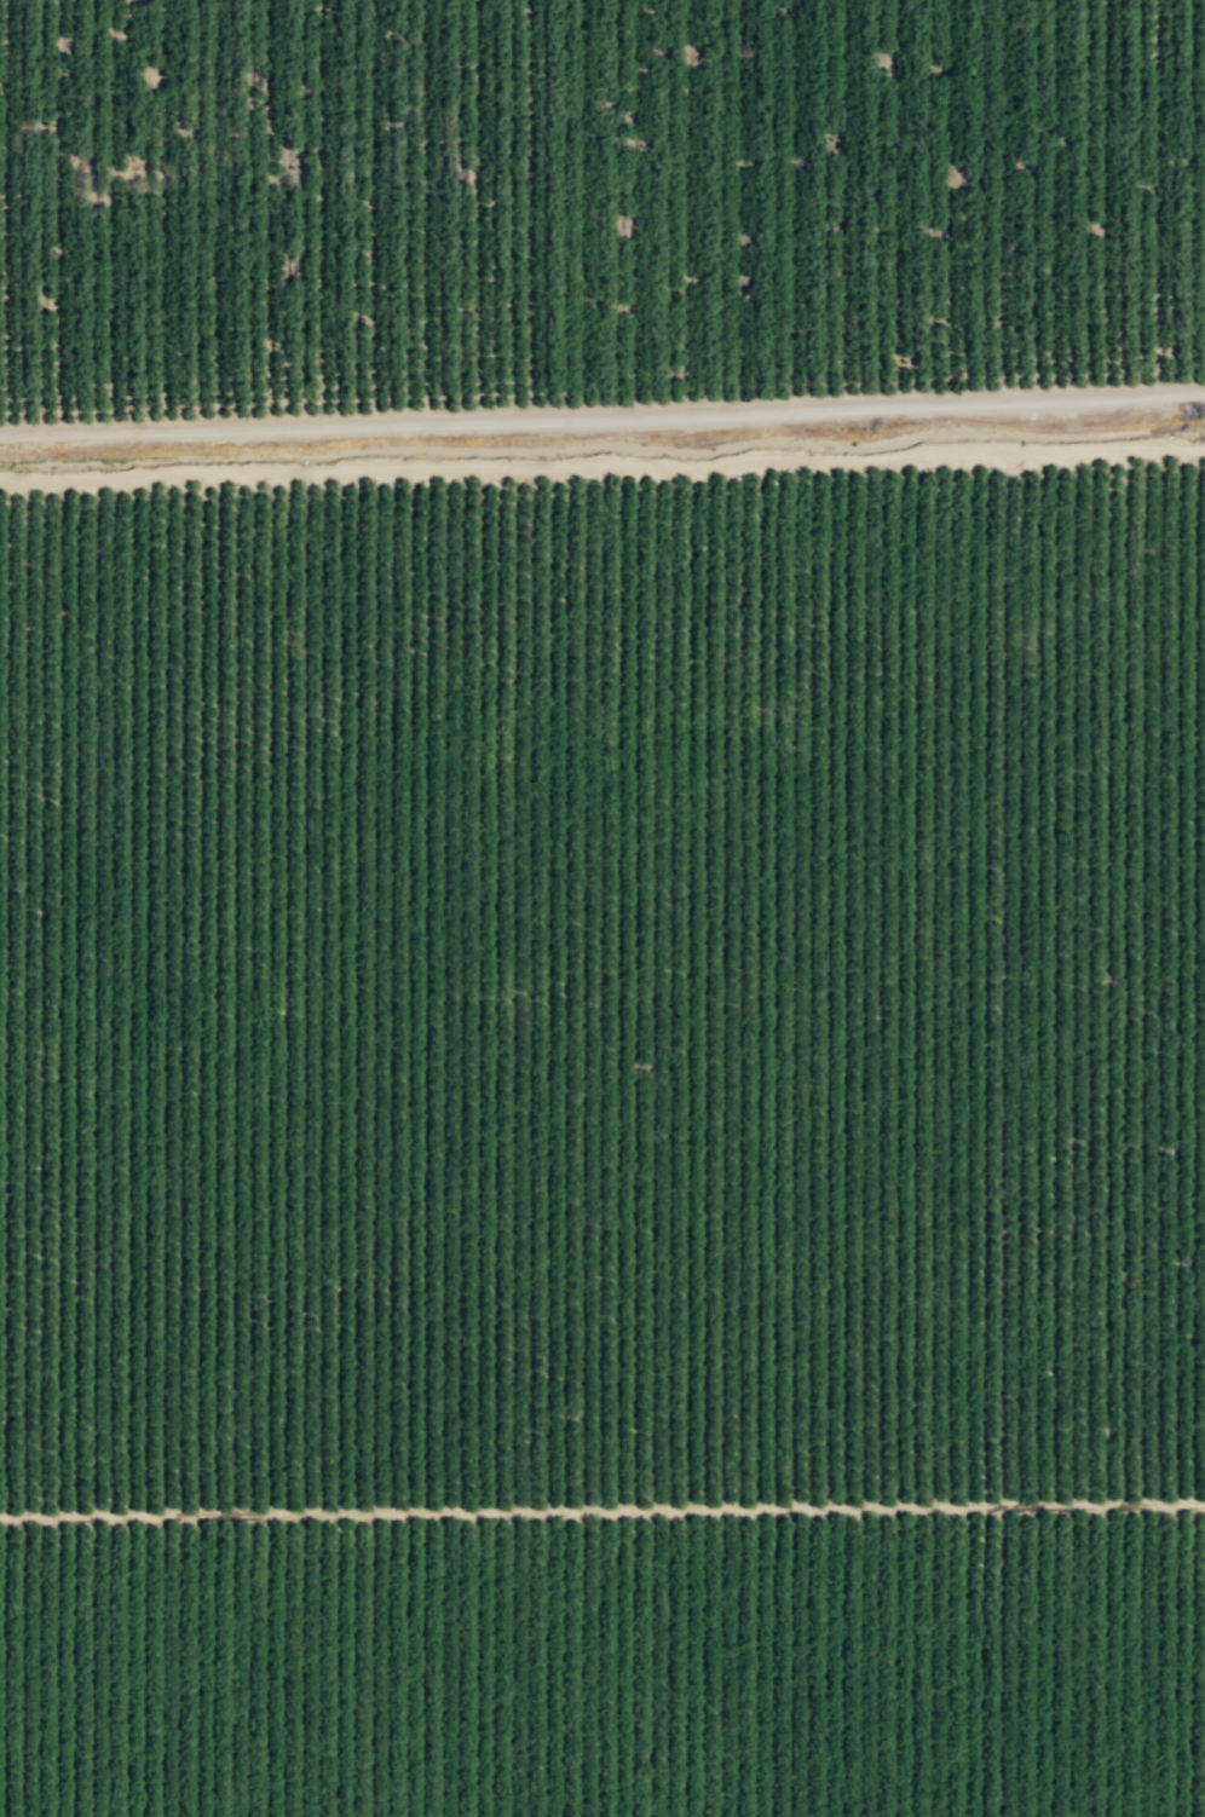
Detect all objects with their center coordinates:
road: (602, 419)
road: (602, 467)
road: (601, 1512)

